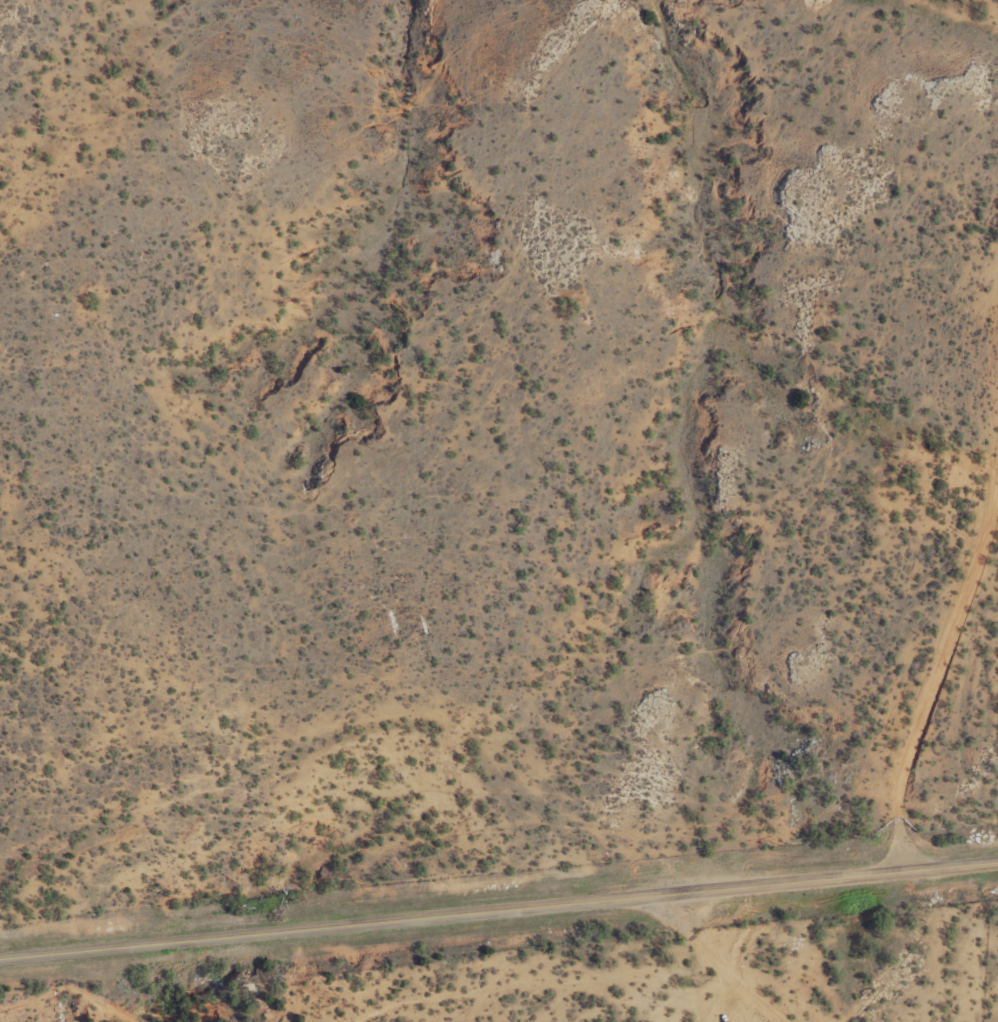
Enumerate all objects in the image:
road: (936, 675)
road: (499, 904)
road: (701, 950)

